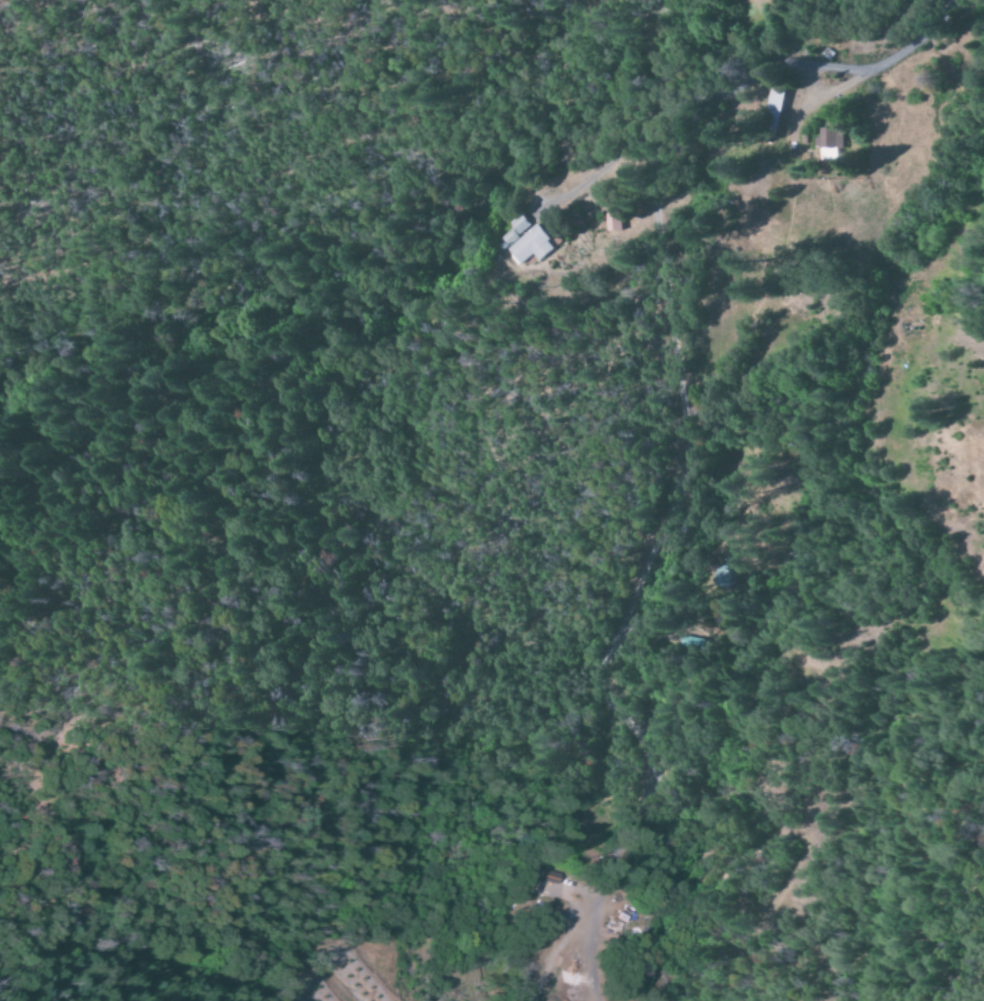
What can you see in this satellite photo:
building: (828, 144)
building: (613, 223)
building: (519, 225)
building: (526, 245)

